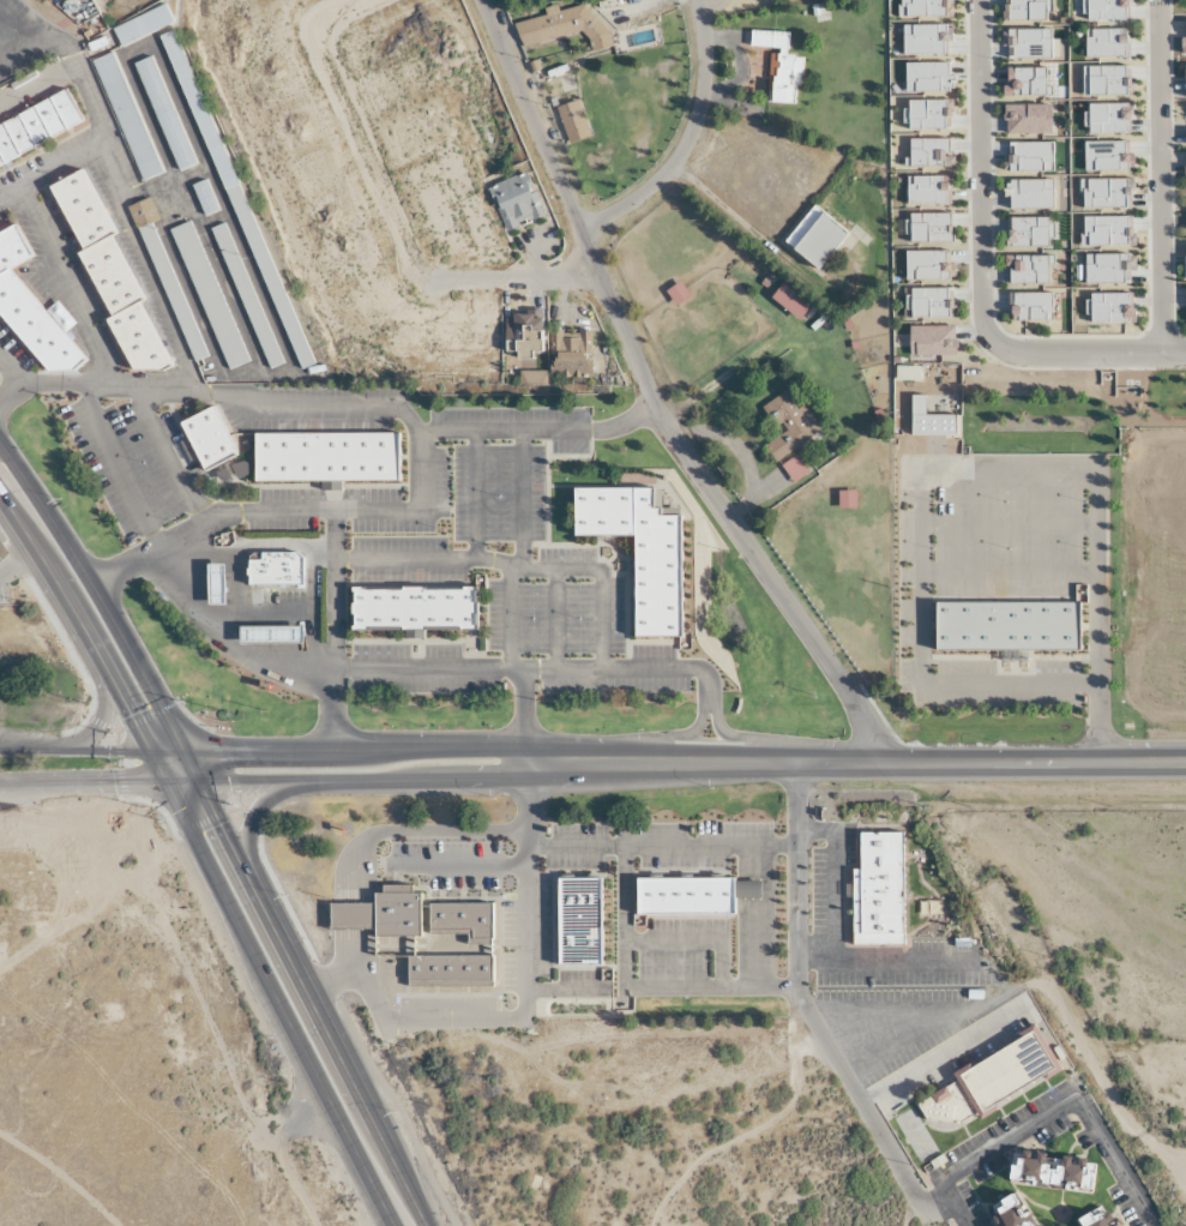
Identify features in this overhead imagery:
building: (70, 4)
building: (143, 24)
building: (560, 26)
building: (97, 42)
road: (38, 46)
road: (16, 47)
building: (163, 113)
building: (127, 115)
building: (571, 121)
building: (36, 124)
road: (351, 130)
road: (686, 137)
road: (1157, 176)
building: (203, 197)
building: (234, 199)
building: (518, 200)
building: (813, 238)
road: (979, 270)
building: (106, 271)
road: (511, 277)
building: (170, 292)
building: (675, 293)
building: (207, 295)
building: (246, 295)
building: (788, 301)
building: (30, 312)
building: (524, 335)
building: (572, 354)
building: (904, 373)
road: (651, 398)
road: (332, 405)
building: (928, 421)
building: (787, 427)
building: (205, 439)
building: (324, 456)
road: (168, 457)
road: (121, 467)
building: (793, 469)
road: (476, 494)
road: (414, 509)
road: (314, 510)
road: (523, 549)
building: (638, 551)
road: (513, 565)
building: (277, 567)
building: (218, 583)
road: (90, 606)
building: (413, 608)
road: (195, 611)
road: (555, 615)
building: (1004, 626)
building: (273, 633)
road: (65, 648)
road: (534, 665)
traffic signals: (146, 707)
road: (332, 708)
road: (103, 709)
road: (524, 722)
road: (674, 737)
road: (745, 738)
road: (484, 746)
traffic signals: (237, 749)
road: (84, 750)
road: (993, 761)
road: (555, 779)
road: (92, 780)
traffic signals: (112, 780)
road: (247, 780)
road: (204, 816)
road: (251, 816)
traffic signals: (211, 829)
road: (666, 848)
road: (835, 881)
building: (878, 890)
building: (685, 895)
building: (380, 913)
road: (770, 918)
building: (462, 920)
building: (579, 921)
road: (886, 958)
building: (448, 969)
road: (645, 992)
road: (803, 1009)
road: (878, 1014)
road: (517, 1020)
road: (896, 1044)
road: (326, 1054)
building: (1006, 1071)
road: (1047, 1110)

